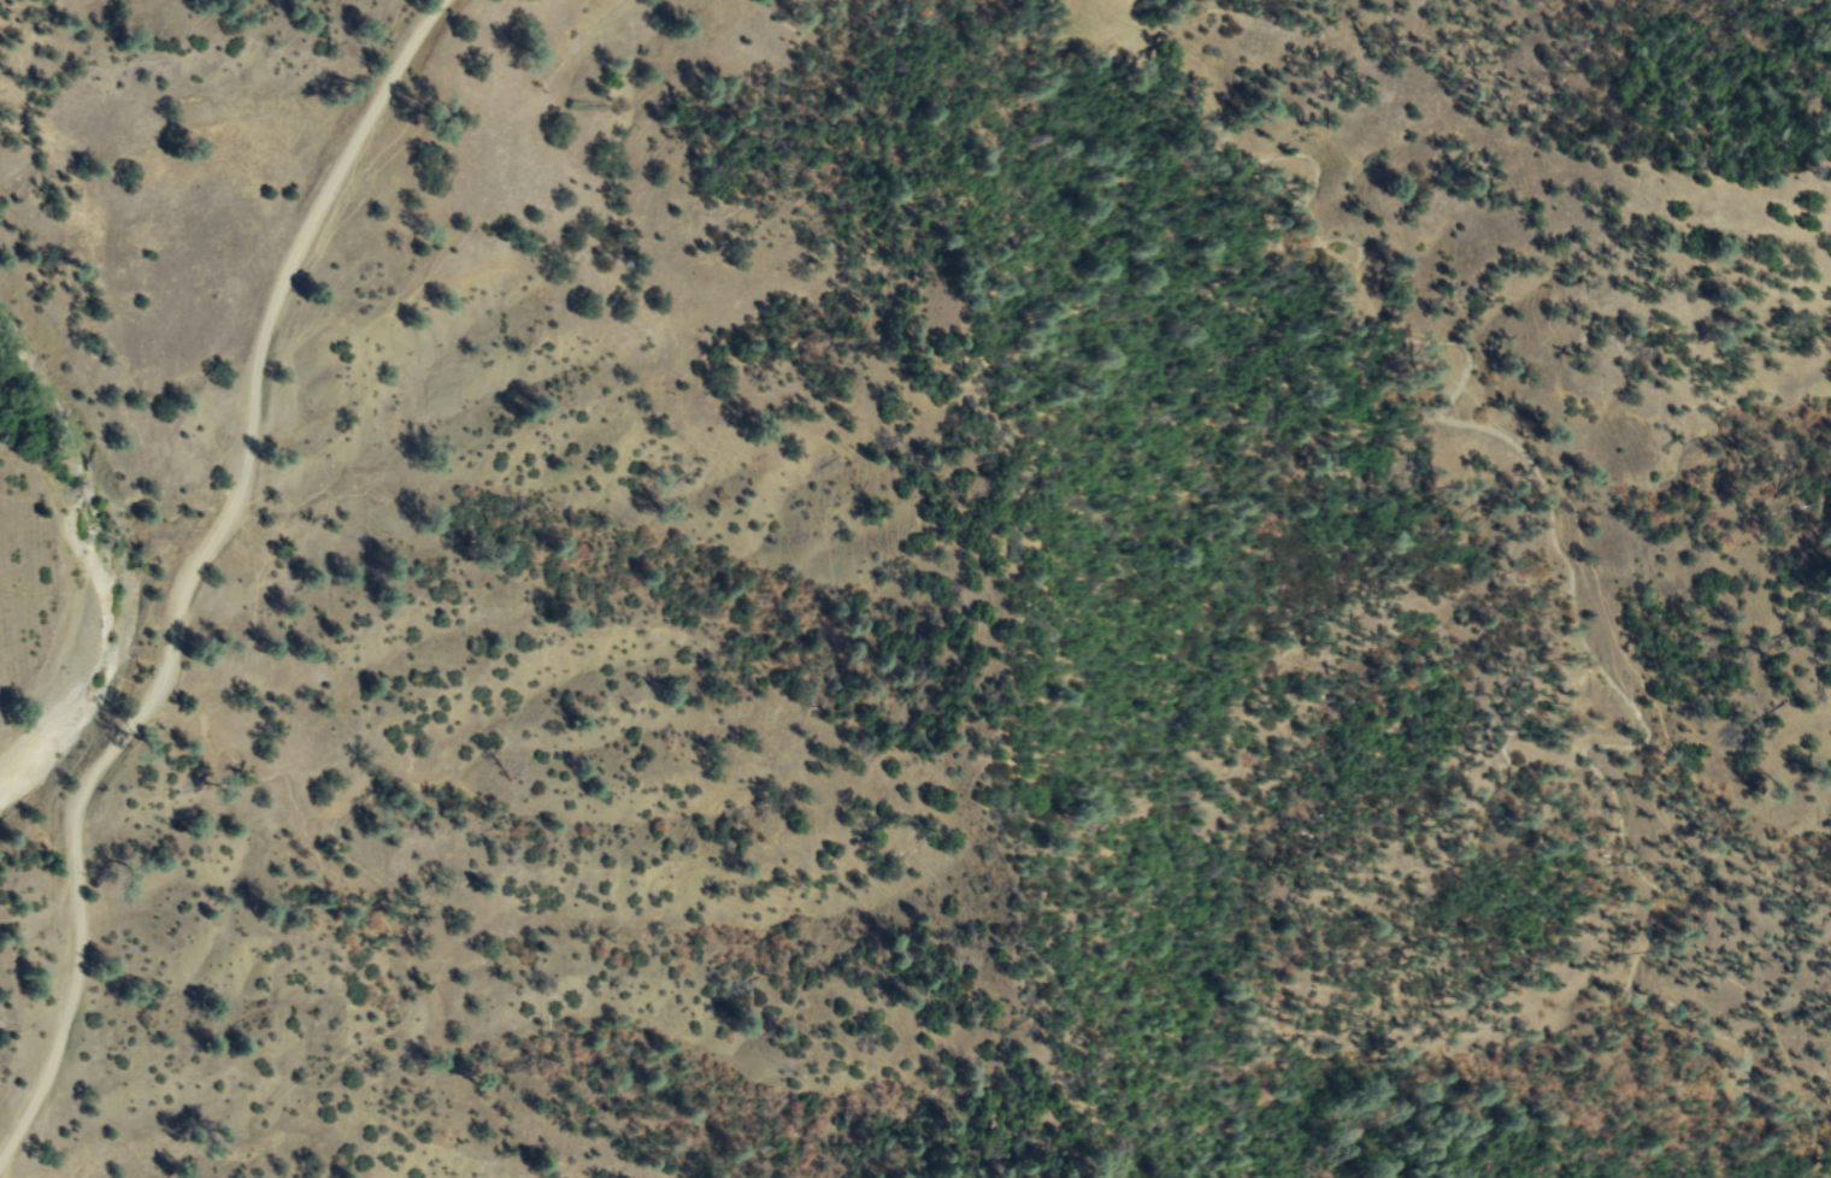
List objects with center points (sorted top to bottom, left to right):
river: (87, 555)
road: (200, 583)

